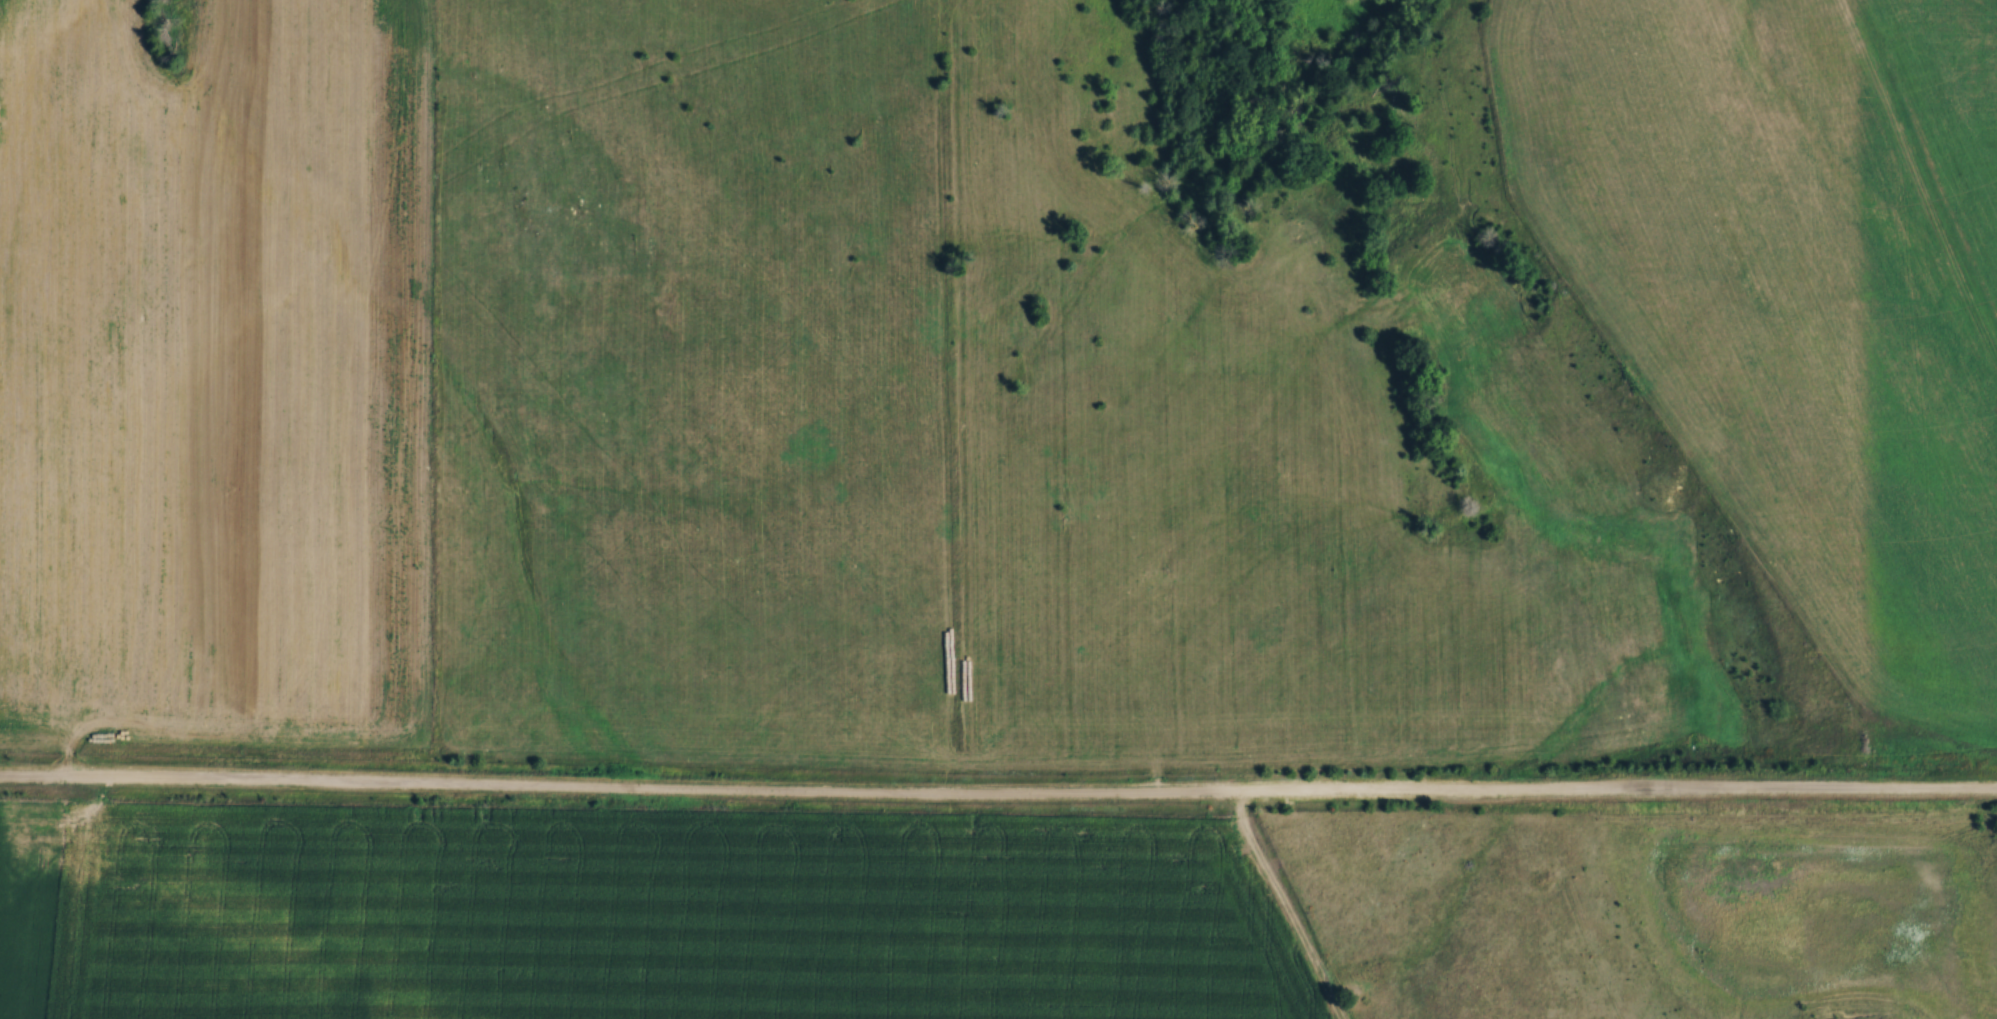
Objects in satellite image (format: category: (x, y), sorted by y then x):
road: (998, 797)
road: (1285, 908)

